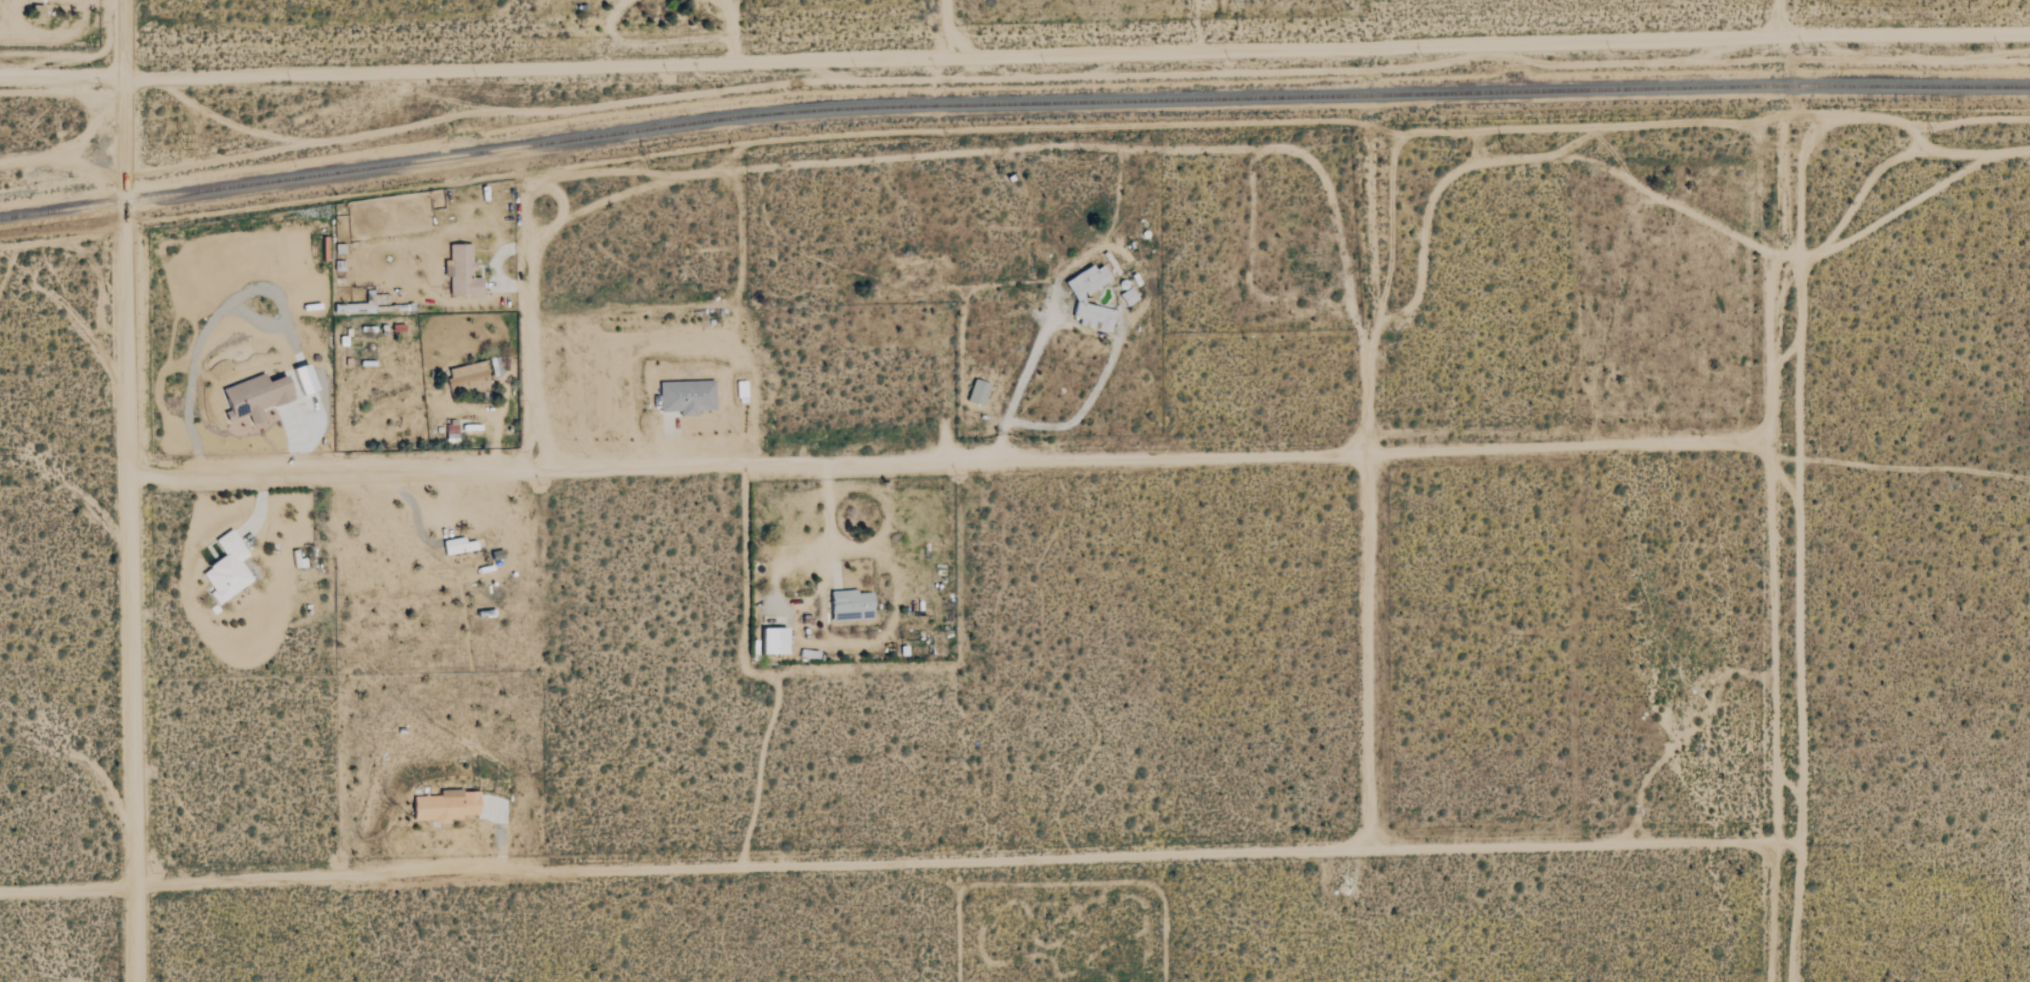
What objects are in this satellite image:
road: (108, 2)
road: (938, 30)
road: (1484, 48)
road: (469, 76)
railway: (1010, 101)
road: (89, 122)
power tower: (1941, 143)
power tower: (187, 146)
power tower: (1507, 152)
road: (63, 156)
power tower: (1081, 159)
power tower: (649, 170)
building: (460, 270)
building: (1127, 296)
building: (1077, 297)
road: (526, 325)
building: (468, 376)
building: (302, 378)
building: (739, 388)
building: (976, 392)
building: (253, 396)
building: (685, 396)
road: (967, 462)
road: (1370, 487)
road: (134, 490)
road: (1799, 490)
road: (412, 505)
building: (456, 545)
building: (226, 568)
building: (849, 605)
building: (771, 640)
road: (840, 642)
building: (443, 806)
road: (899, 863)

